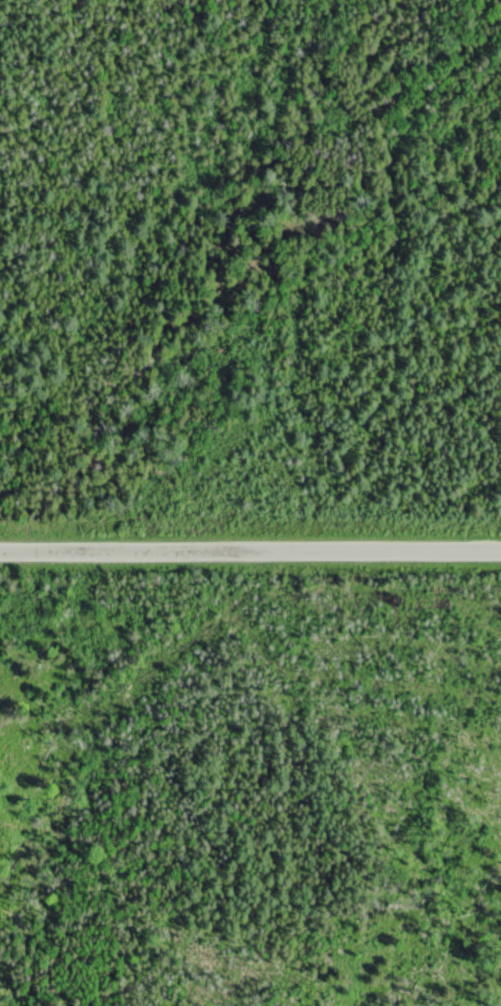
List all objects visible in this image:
road: (250, 555)

